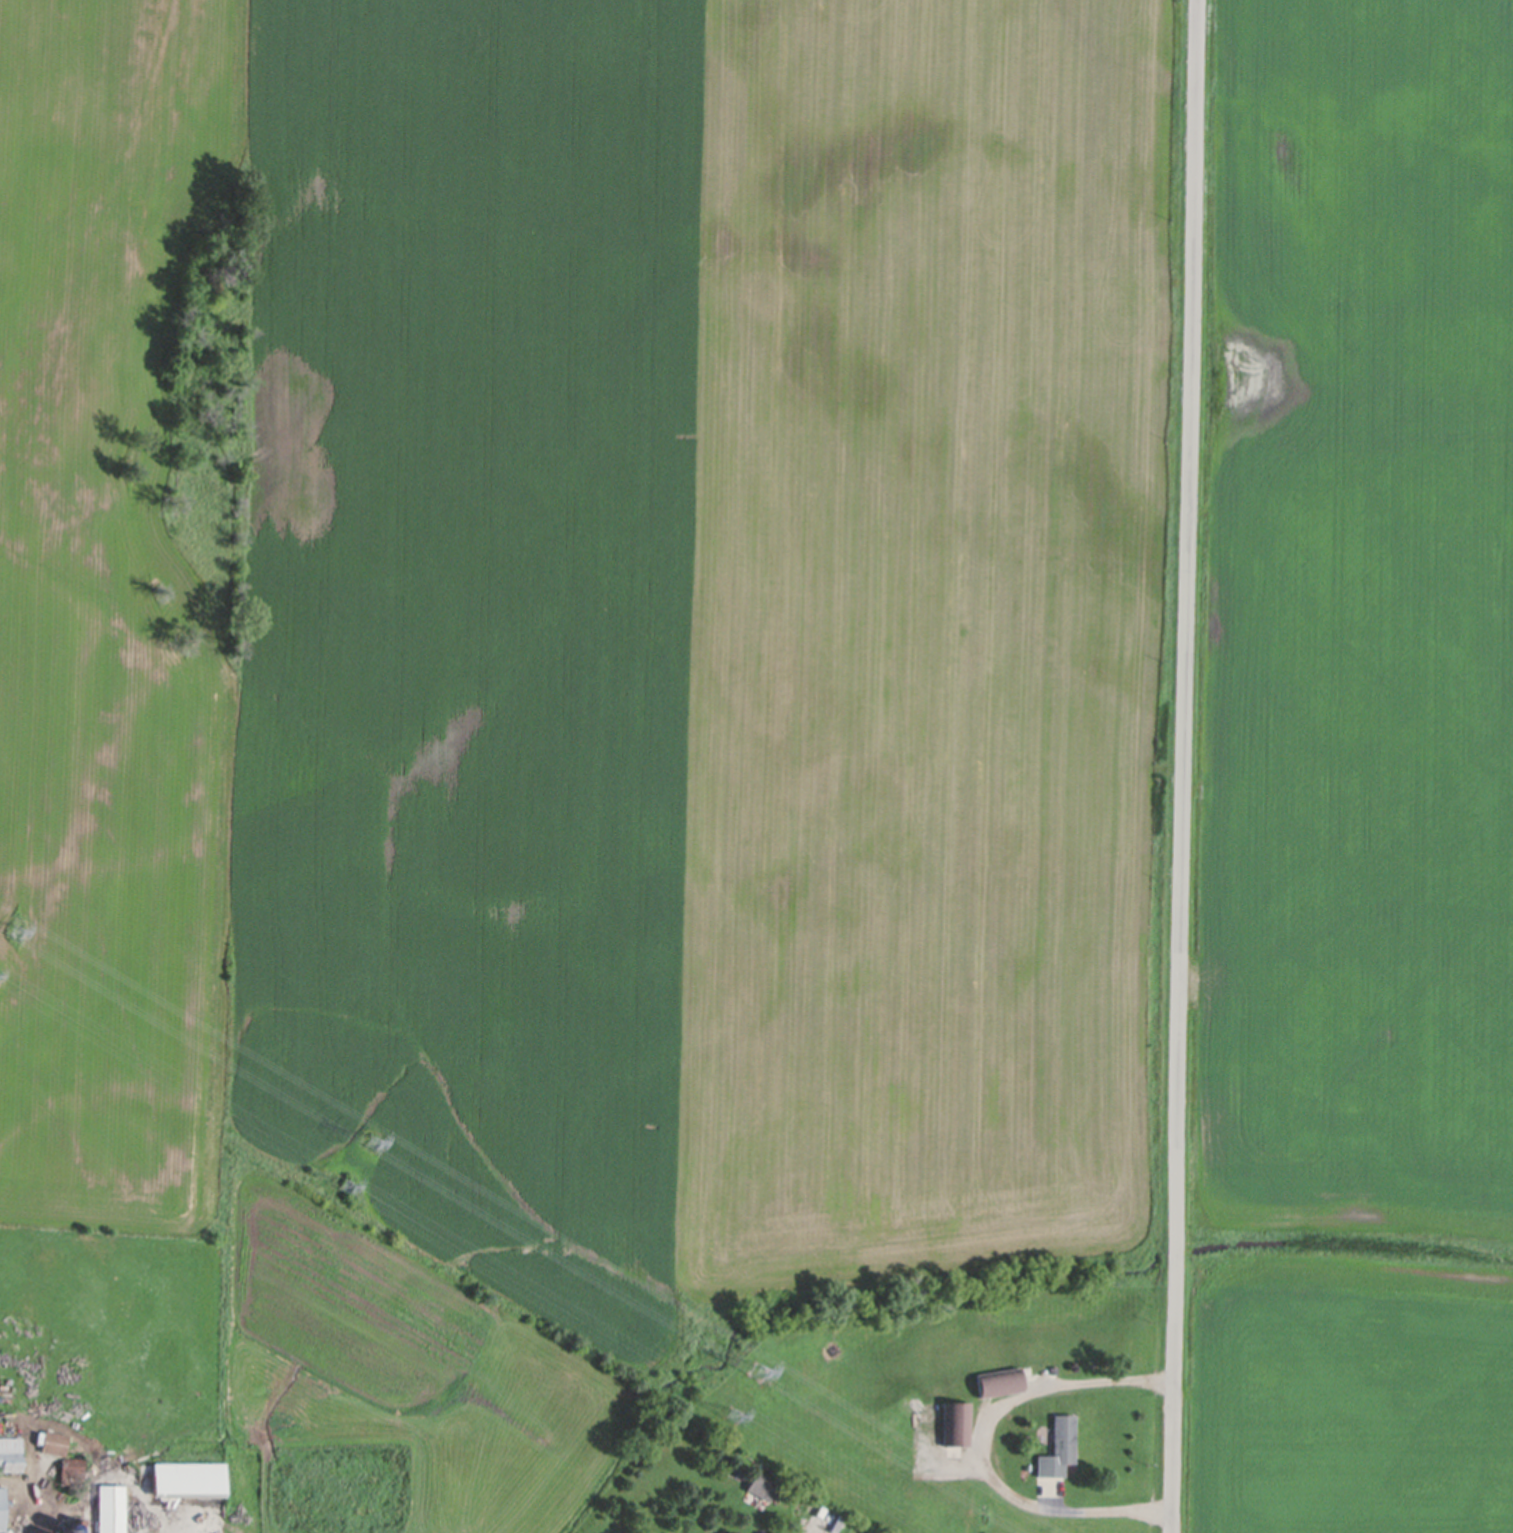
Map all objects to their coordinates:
road: (1185, 766)
power tower: (10, 934)
power tower: (369, 1147)
power tower: (339, 1187)
power tower: (753, 1374)
building: (998, 1374)
power tower: (728, 1416)
building: (956, 1417)
building: (1058, 1442)
road: (978, 1447)
building: (11, 1450)
building: (72, 1470)
building: (189, 1476)
building: (762, 1482)
building: (797, 1495)
road: (26, 1500)
building: (2, 1503)
building: (111, 1507)
building: (73, 1527)

